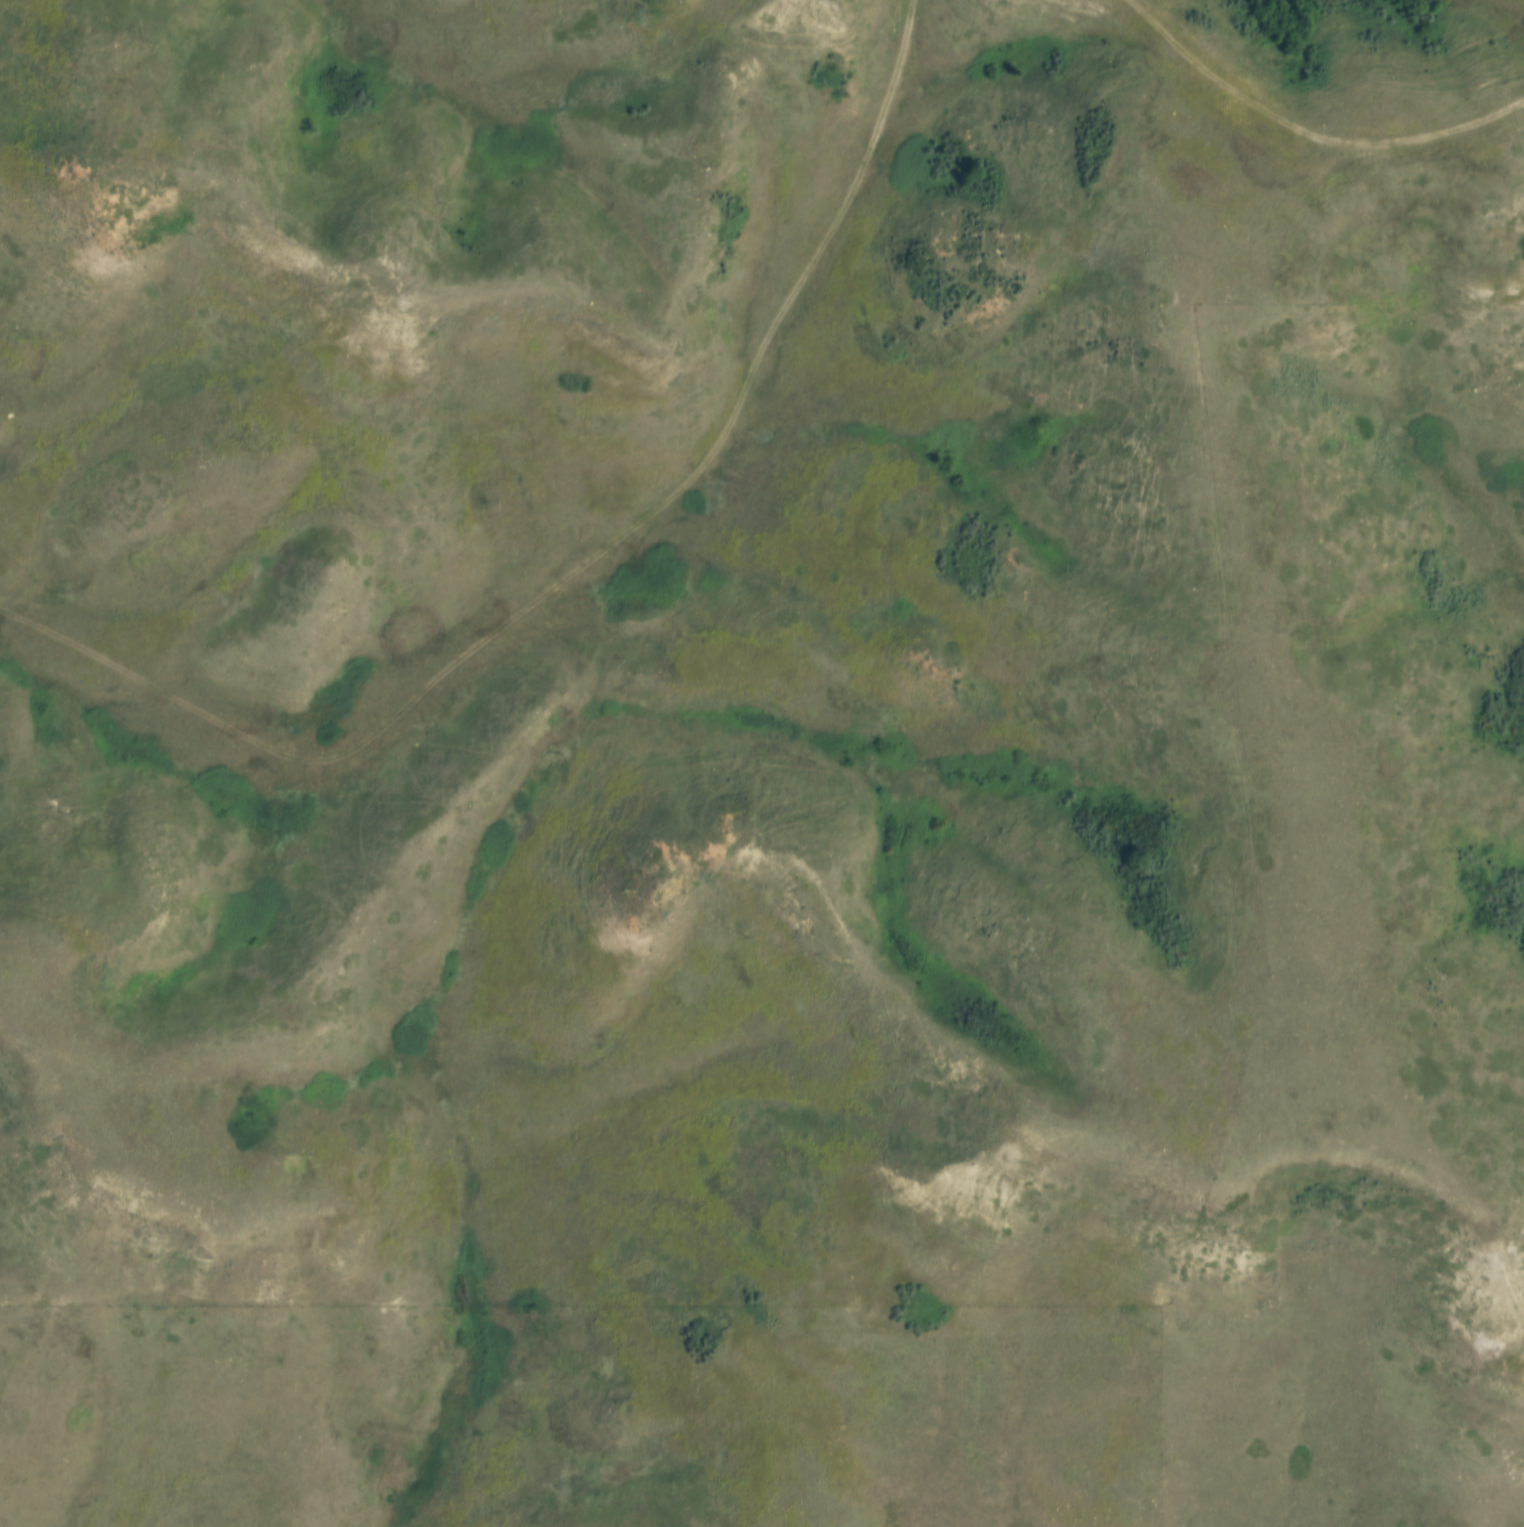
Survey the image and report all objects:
road: (1301, 104)
road: (619, 564)

